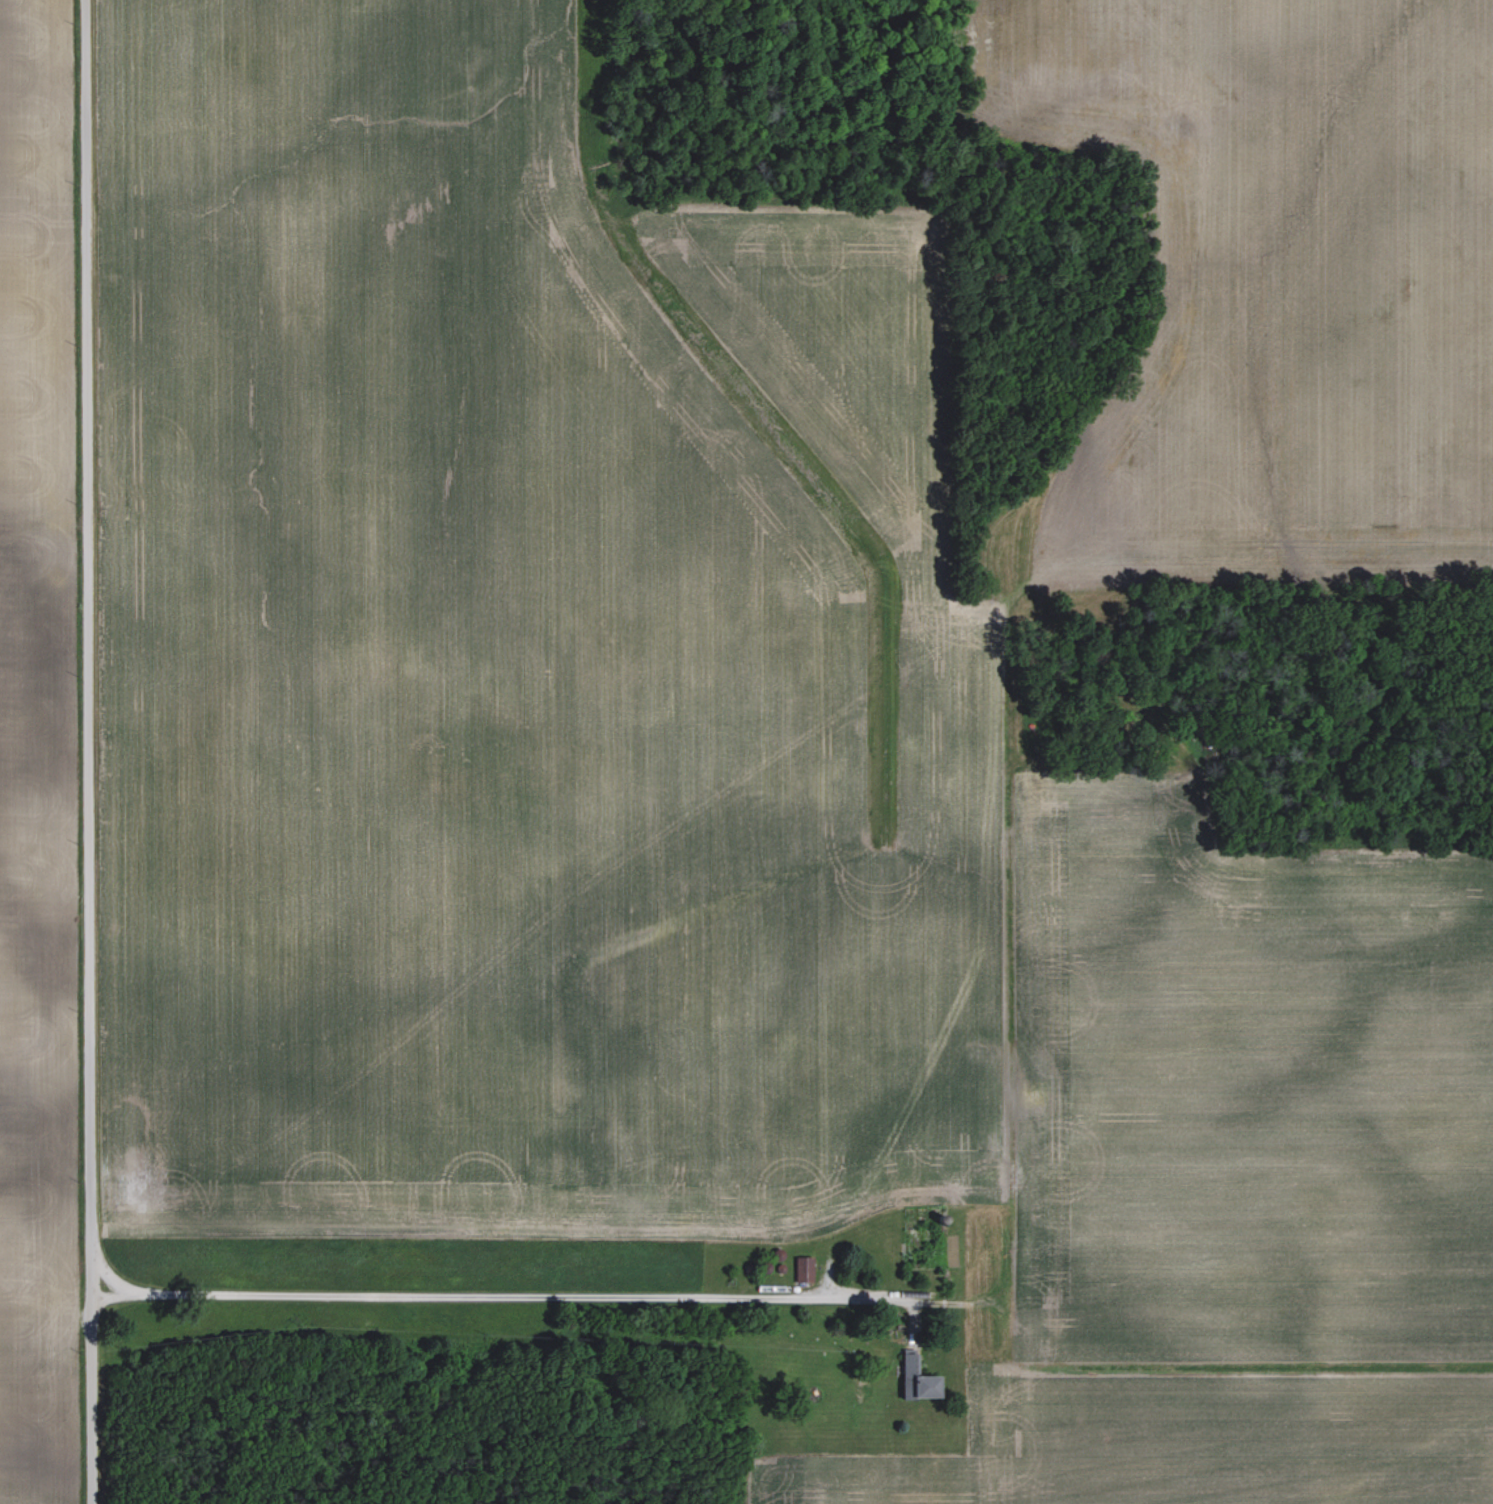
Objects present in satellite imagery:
road: (42, 525)
road: (85, 752)
building: (803, 1267)
road: (516, 1295)
building: (917, 1378)

